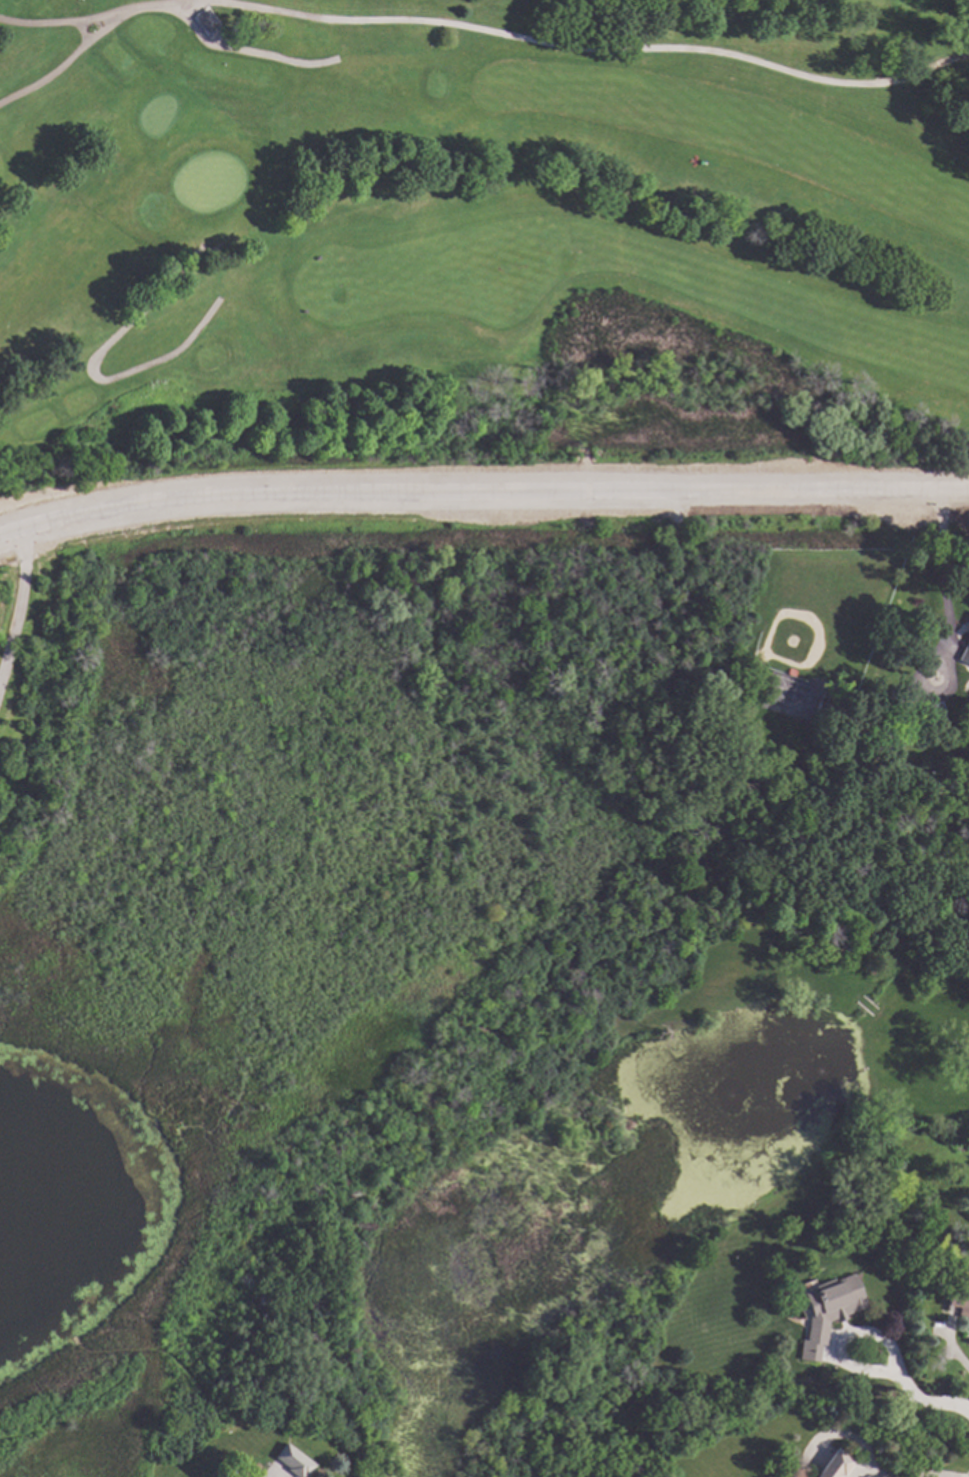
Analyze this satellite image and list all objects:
building: (204, 20)
road: (487, 33)
road: (79, 36)
road: (243, 53)
road: (65, 64)
park: (481, 217)
park: (480, 240)
road: (91, 374)
road: (482, 496)
road: (942, 567)
road: (16, 605)
building: (964, 653)
building: (825, 709)
building: (889, 741)
building: (260, 1299)
building: (959, 1302)
building: (827, 1311)
road: (840, 1341)
road: (952, 1352)
road: (927, 1403)
building: (293, 1460)
building: (833, 1465)

